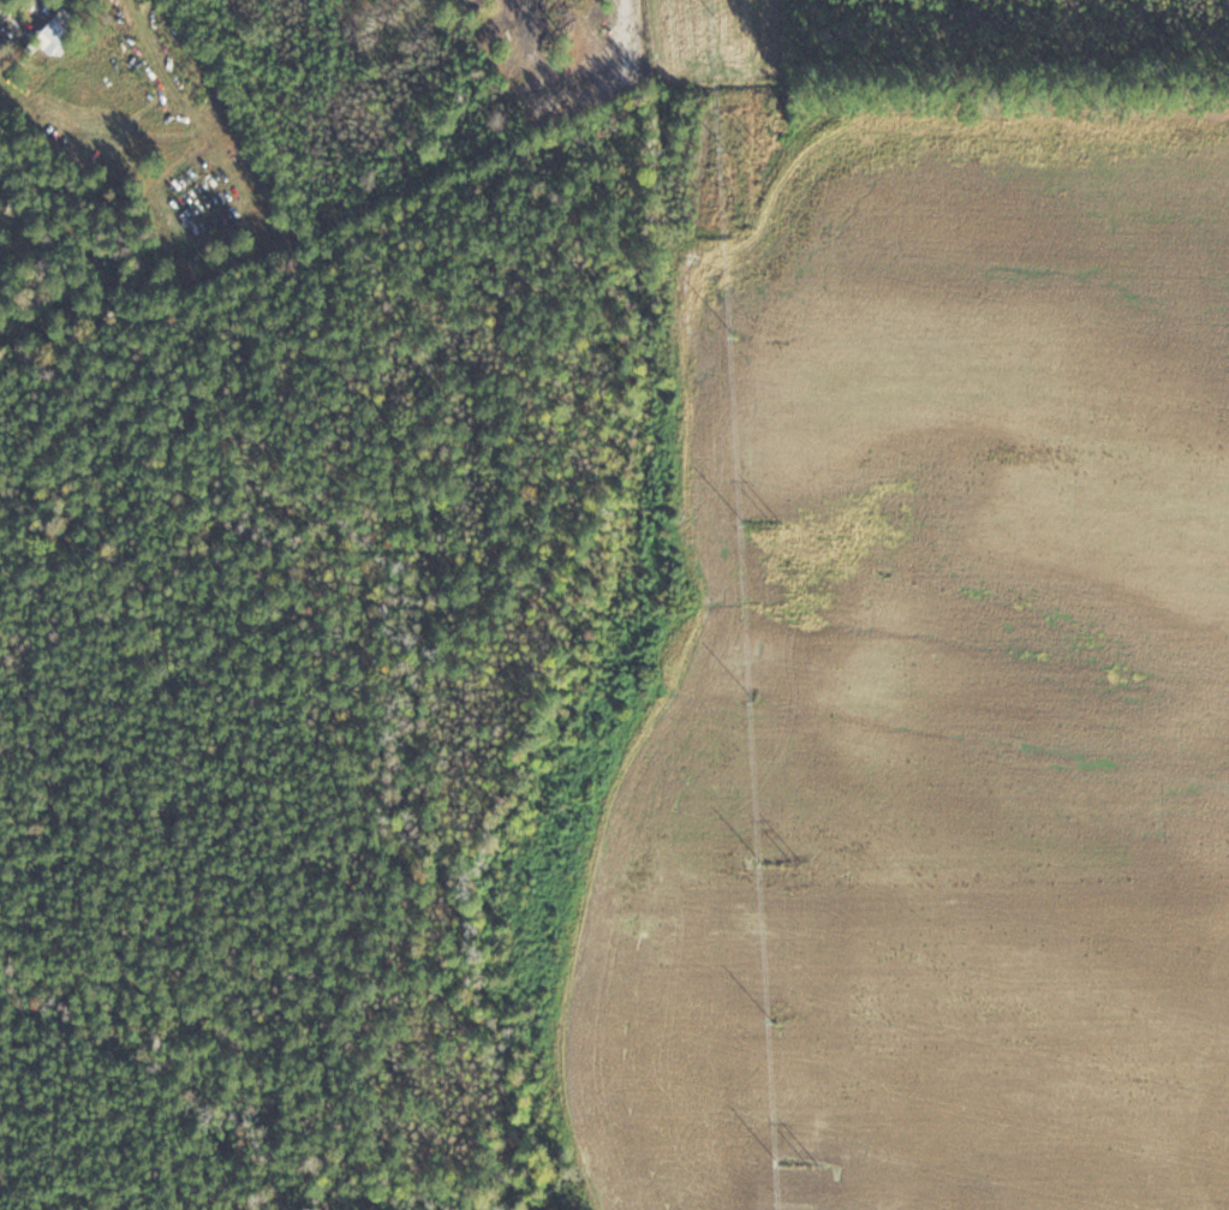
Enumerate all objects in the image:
building: (66, 31)
power tower: (756, 144)
building: (4, 230)
power tower: (778, 523)
power tower: (799, 862)
power tower: (816, 1163)

